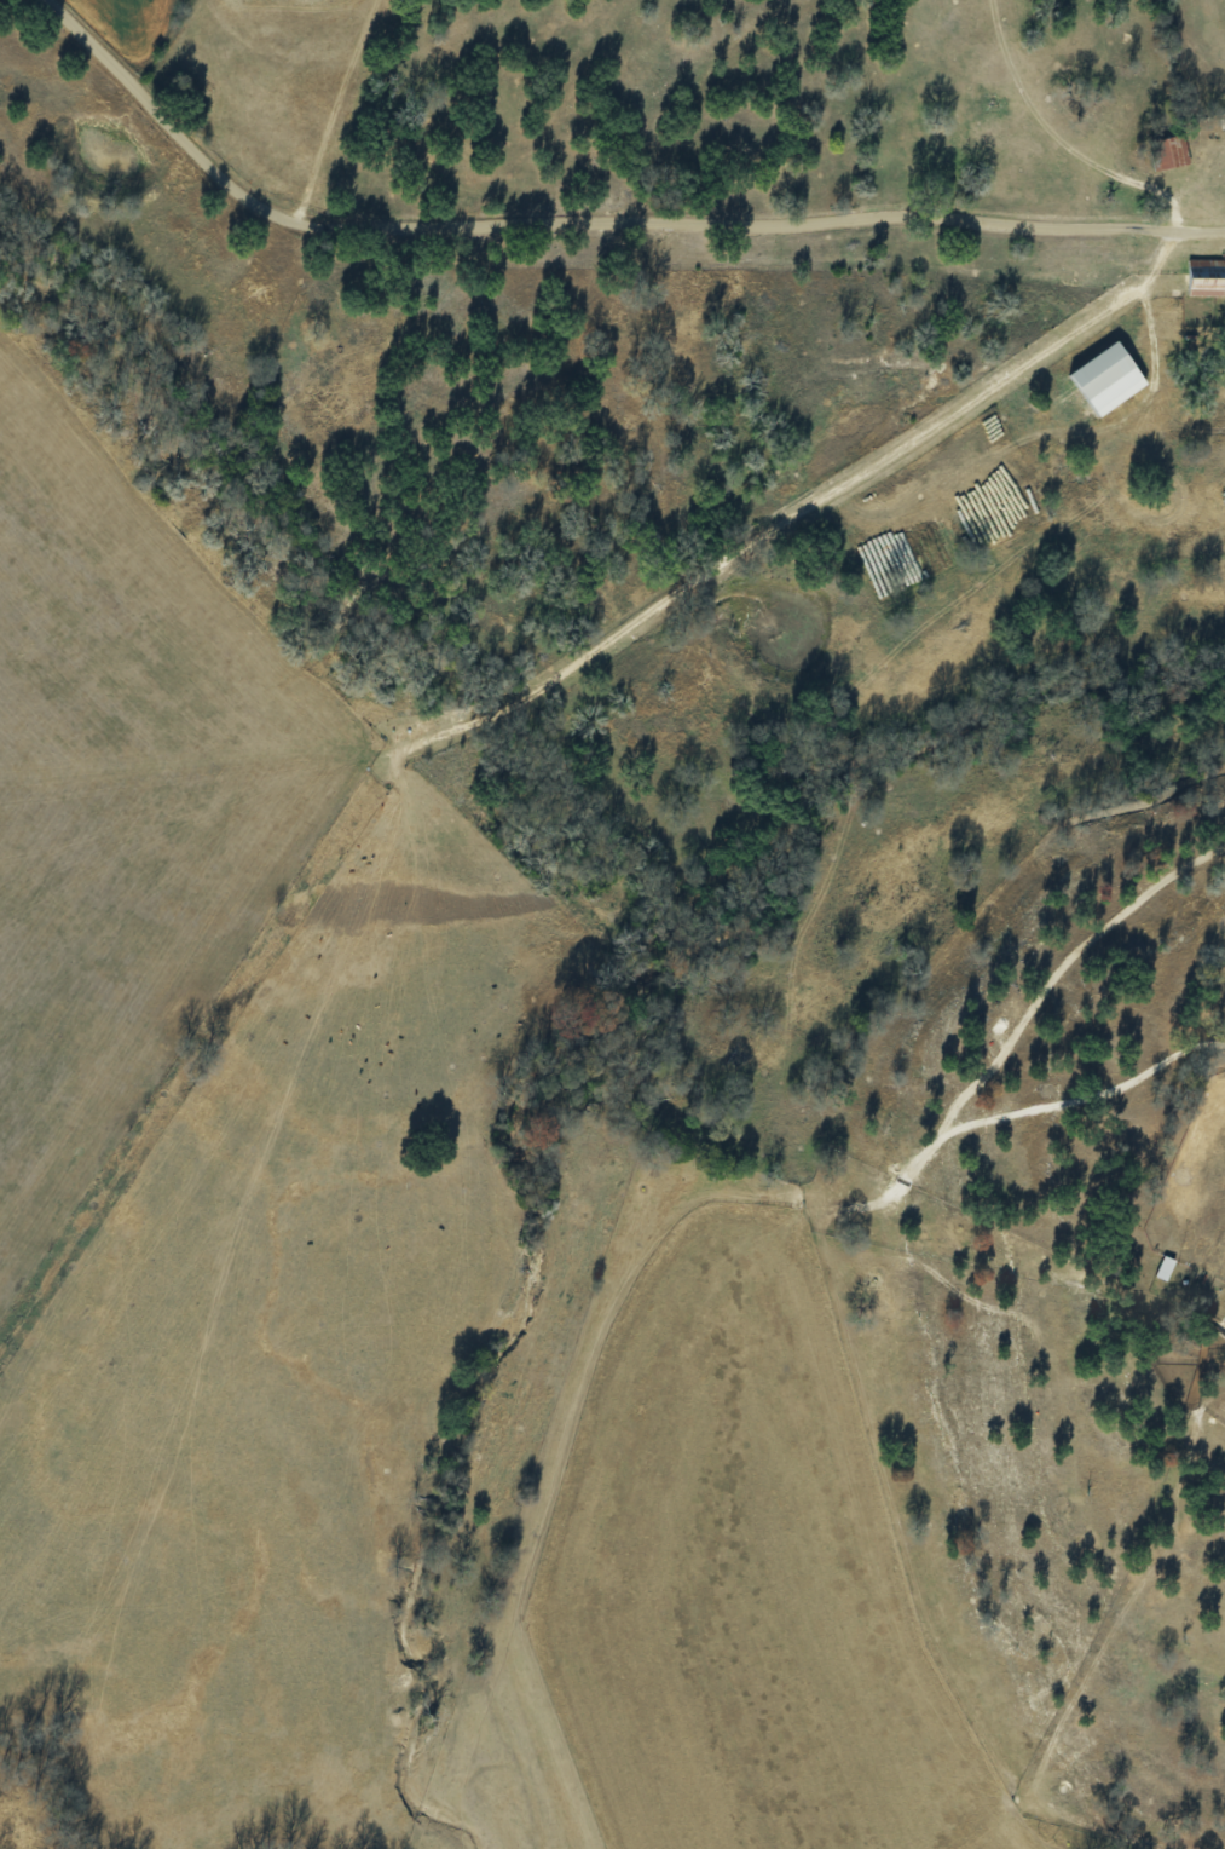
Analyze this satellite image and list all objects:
building: (1167, 151)
road: (590, 220)
building: (1203, 276)
building: (1104, 379)
road: (483, 807)
building: (1224, 1319)

